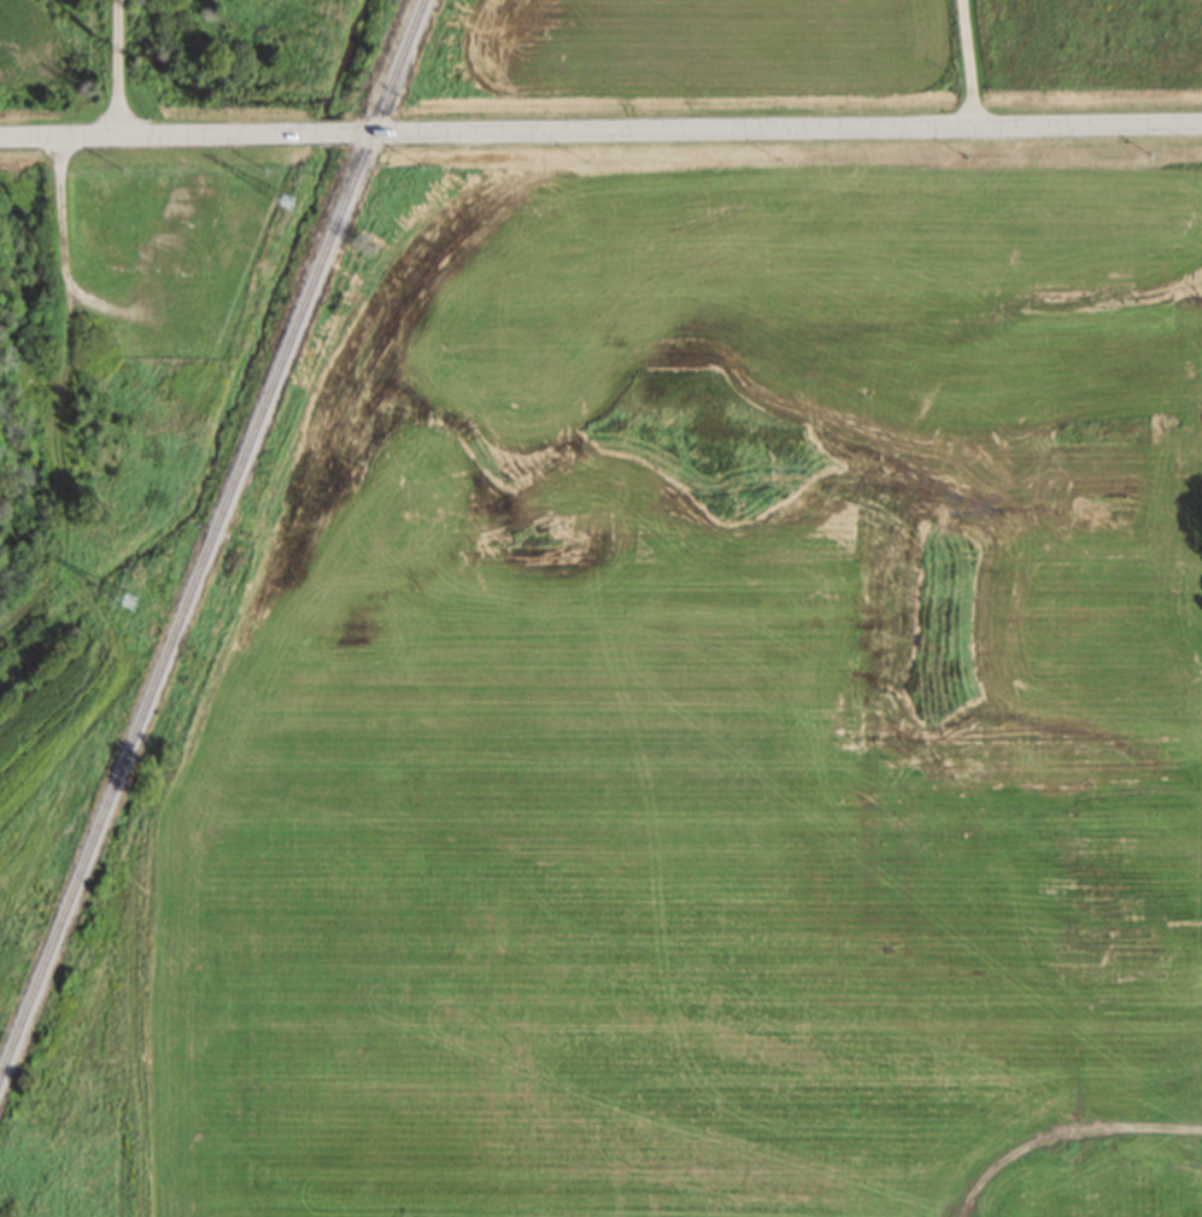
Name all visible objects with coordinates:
road: (972, 63)
road: (113, 68)
road: (772, 128)
road: (326, 134)
road: (154, 136)
railway: (213, 545)

